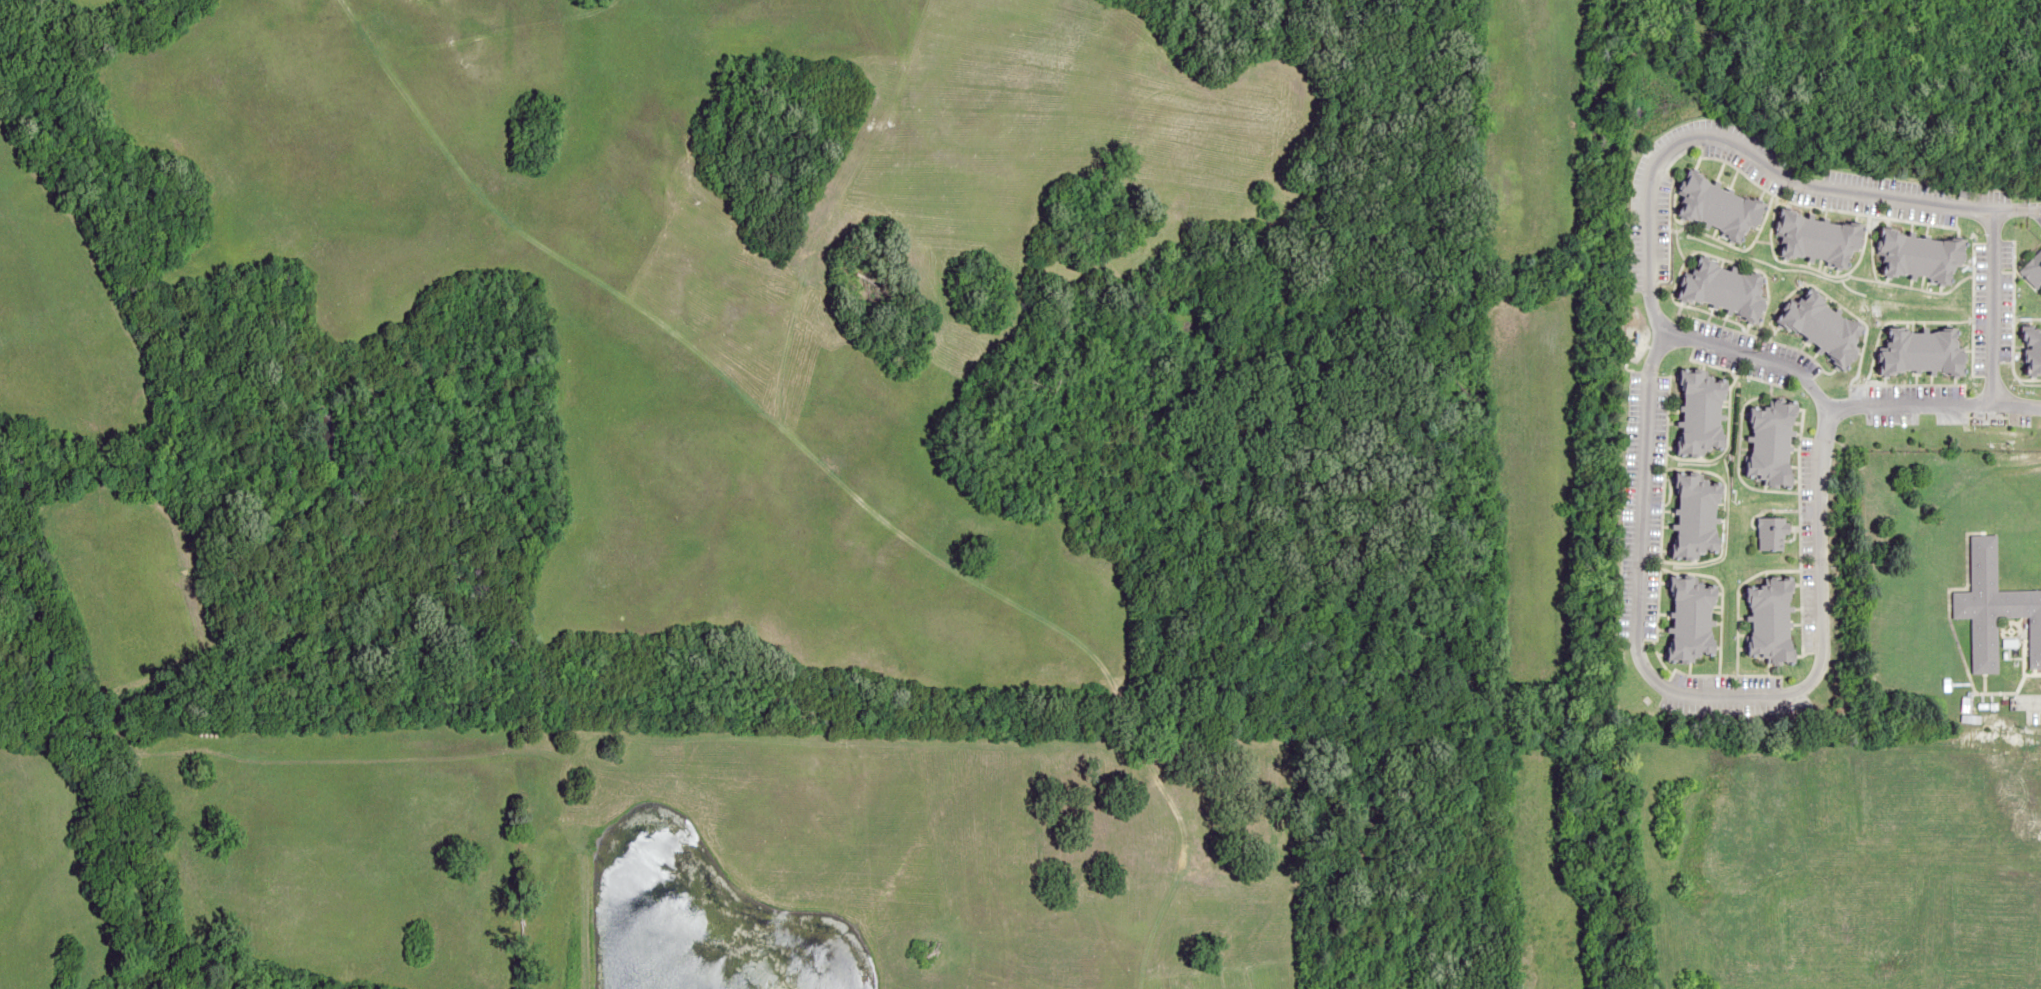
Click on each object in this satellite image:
building: (1717, 207)
building: (1817, 239)
building: (1919, 257)
building: (2032, 271)
building: (1725, 289)
road: (1990, 304)
building: (1822, 326)
building: (1920, 351)
building: (2031, 351)
road: (1837, 405)
building: (1701, 413)
road: (1641, 432)
building: (1771, 444)
building: (1693, 516)
building: (1770, 532)
building: (1994, 608)
building: (1691, 619)
building: (1769, 620)

